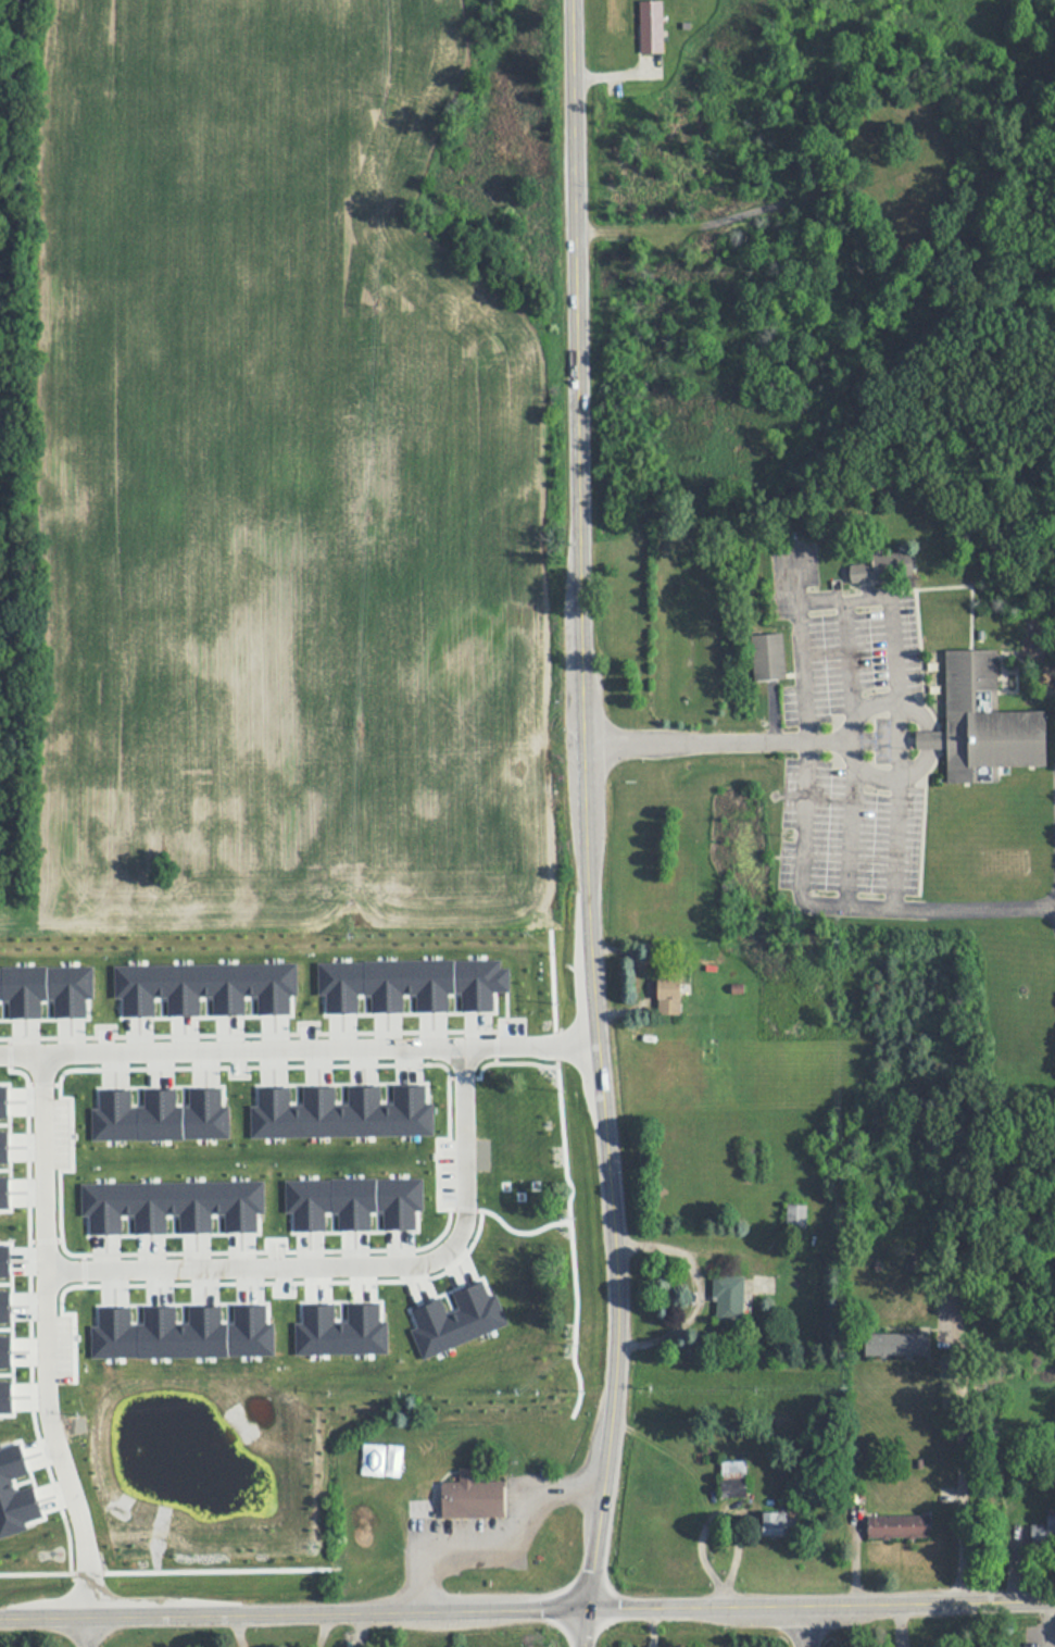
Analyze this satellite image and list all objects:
building: (651, 25)
building: (876, 566)
building: (768, 656)
building: (985, 721)
road: (580, 804)
road: (820, 908)
building: (670, 996)
road: (298, 1058)
building: (497, 1134)
building: (796, 1215)
building: (447, 1258)
road: (351, 1275)
building: (729, 1298)
building: (528, 1305)
building: (445, 1309)
road: (43, 1340)
building: (896, 1344)
building: (527, 1346)
road: (959, 1470)
building: (733, 1478)
building: (474, 1498)
building: (778, 1524)
building: (900, 1526)
building: (1044, 1532)
road: (494, 1538)
road: (527, 1608)
road: (804, 1625)
road: (585, 1626)
road: (325, 1629)
road: (240, 1630)
road: (89, 1631)

